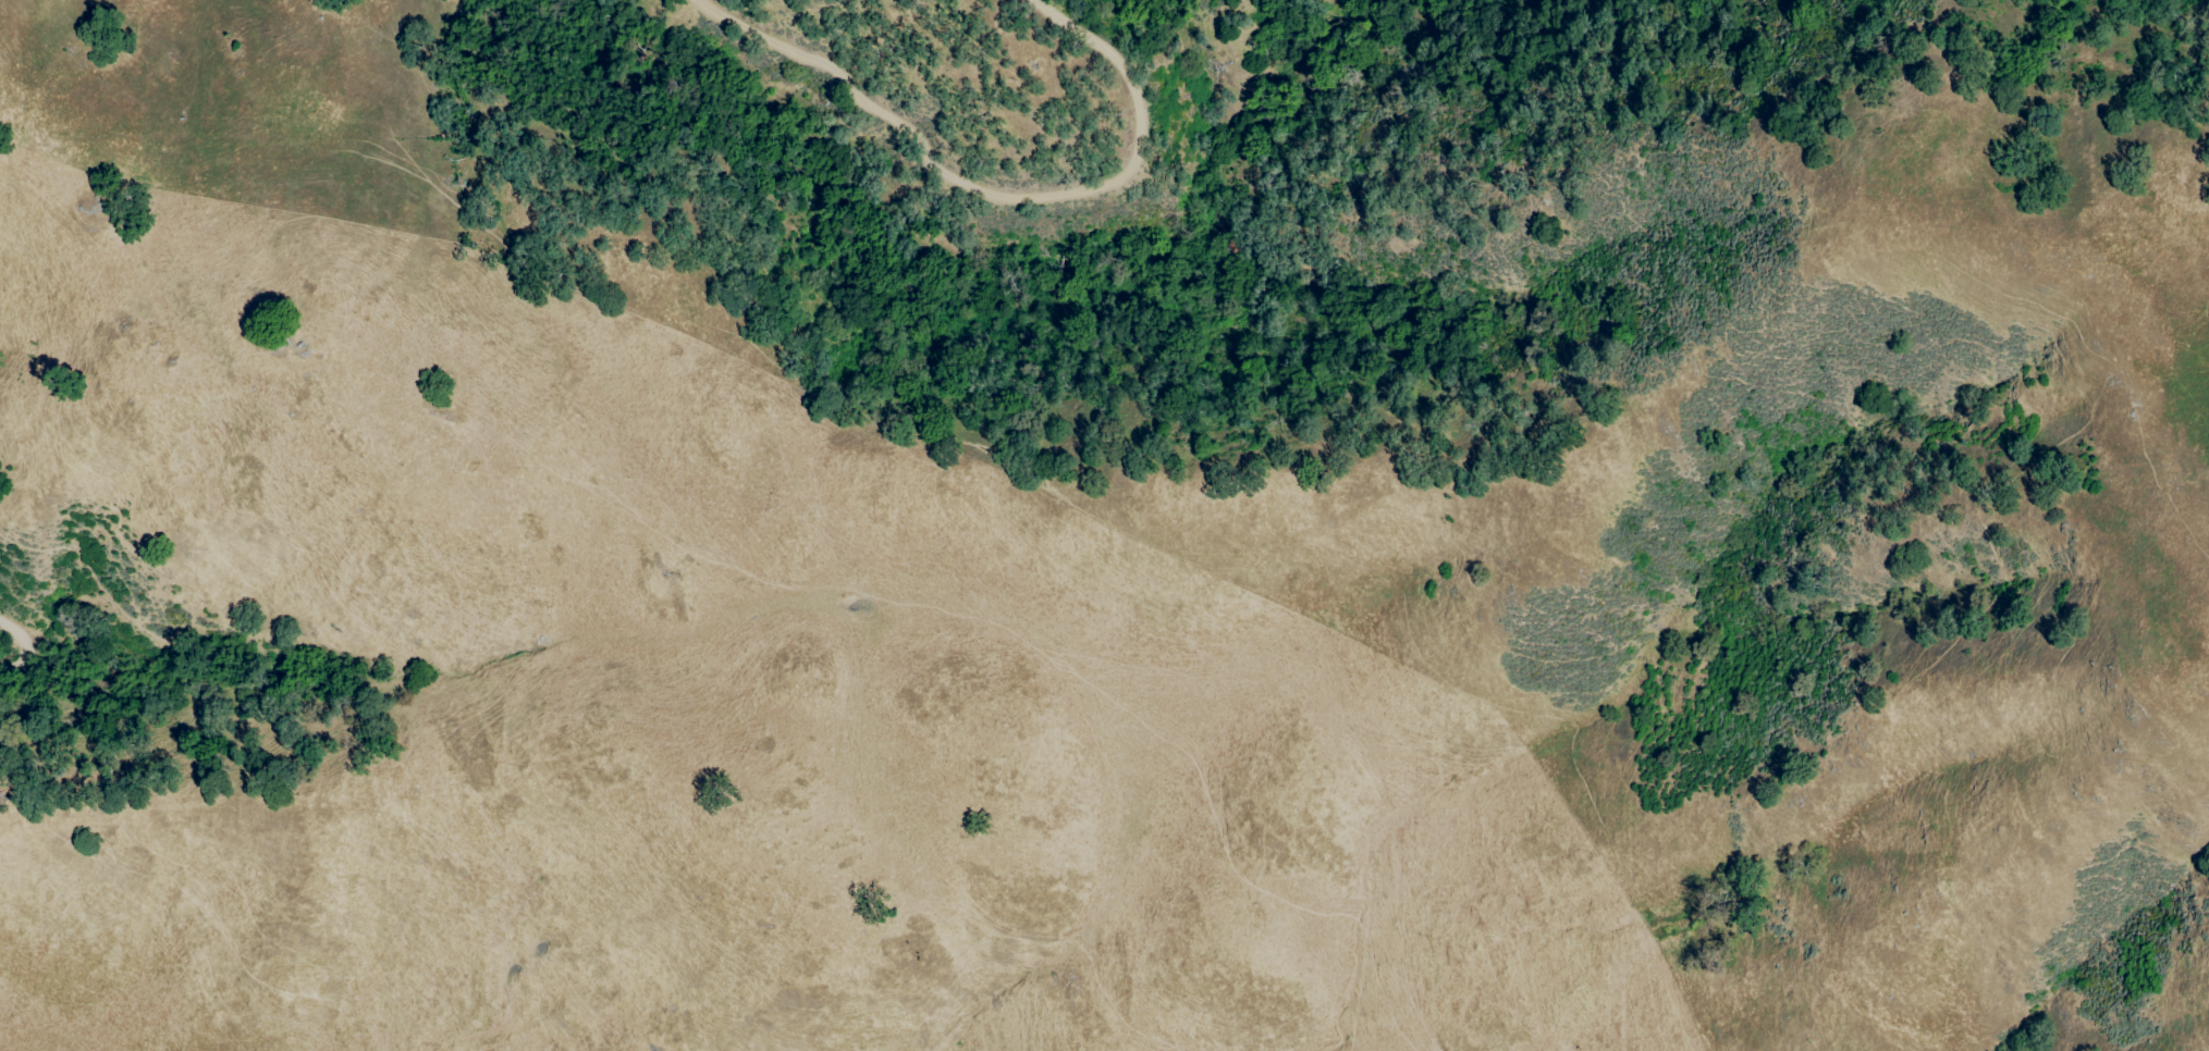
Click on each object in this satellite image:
road: (997, 188)
road: (24, 635)

